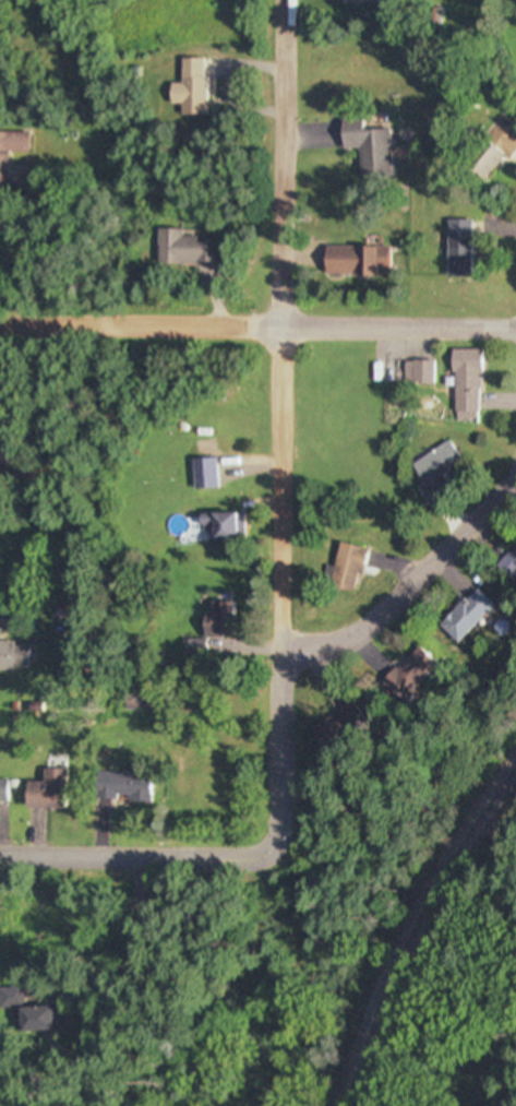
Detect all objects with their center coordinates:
building: (353, 1)
building: (189, 90)
building: (11, 144)
building: (364, 150)
building: (487, 153)
building: (183, 250)
building: (455, 250)
building: (353, 261)
road: (257, 319)
building: (415, 373)
building: (461, 386)
road: (280, 423)
building: (0, 438)
building: (432, 473)
building: (204, 479)
building: (223, 528)
building: (506, 566)
building: (344, 569)
road: (413, 574)
building: (463, 616)
building: (211, 626)
building: (8, 657)
building: (405, 676)
building: (328, 728)
building: (120, 786)
building: (1, 793)
building: (43, 793)
road: (141, 860)
railway: (420, 929)
building: (37, 1016)

